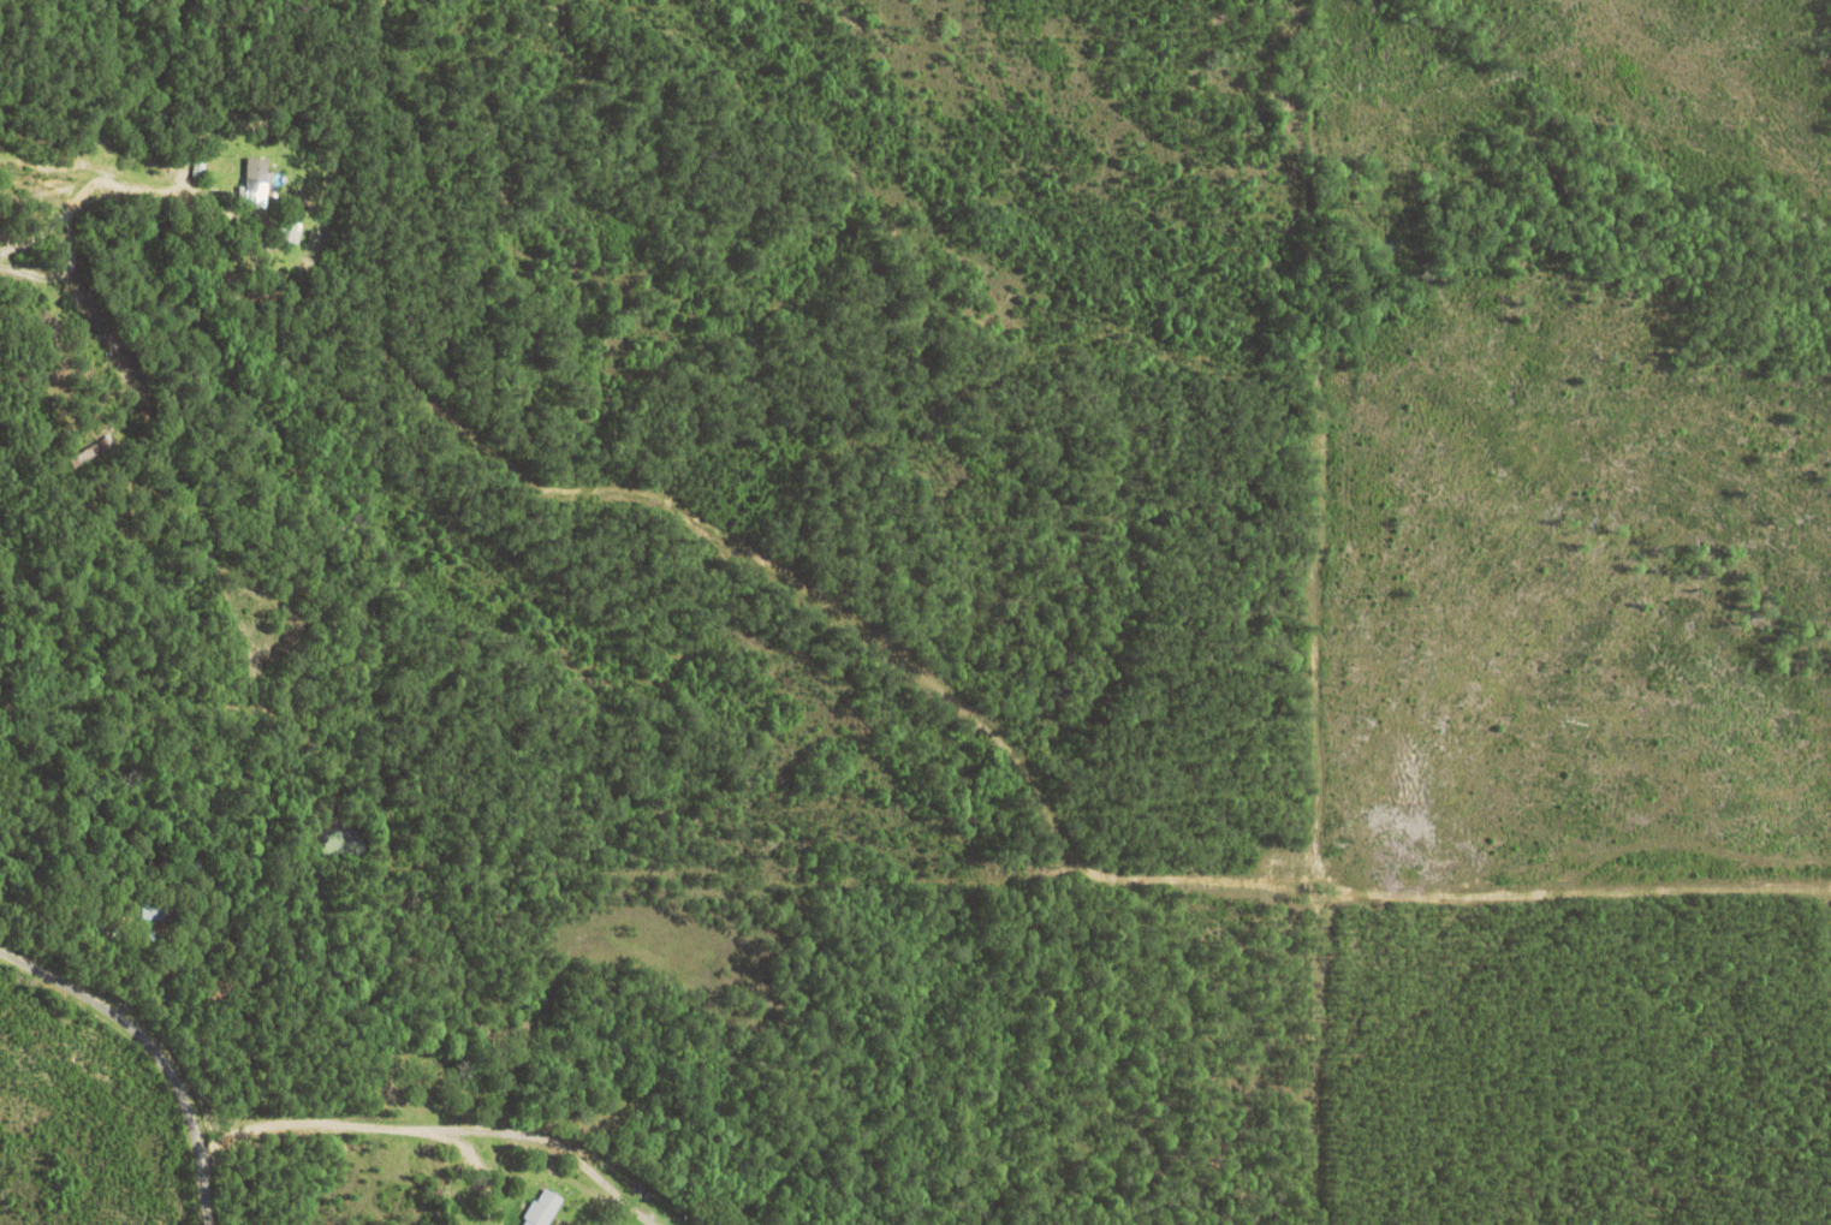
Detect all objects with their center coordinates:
building: (255, 183)
road: (155, 1047)
building: (543, 1208)

